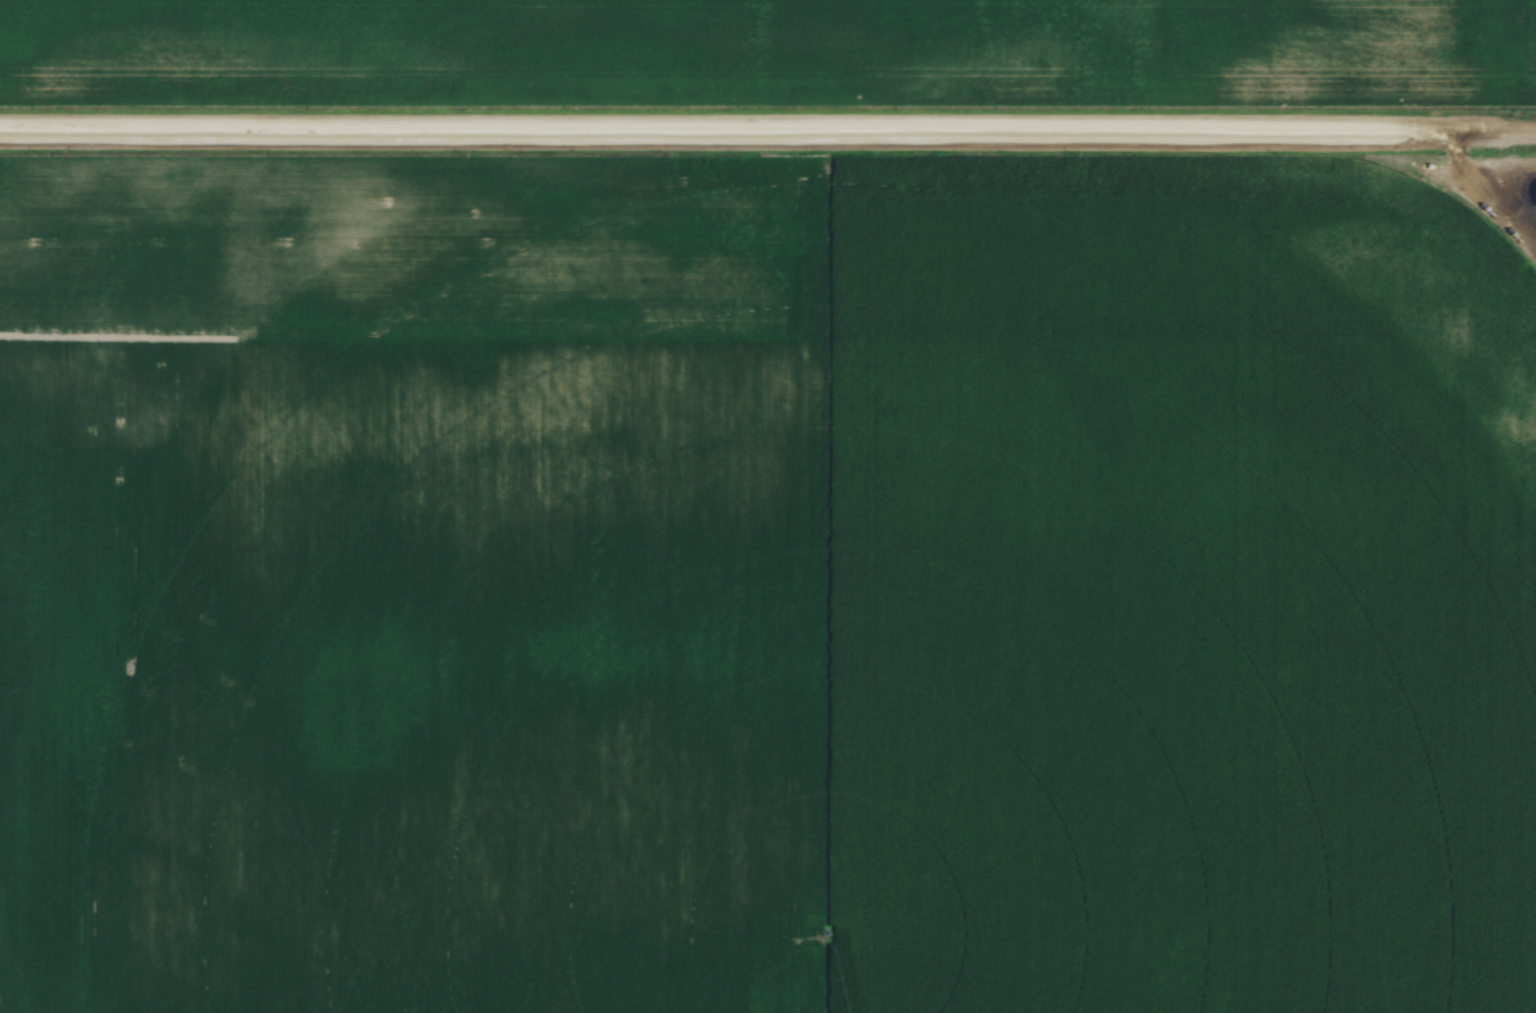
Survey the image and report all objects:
road: (768, 136)

